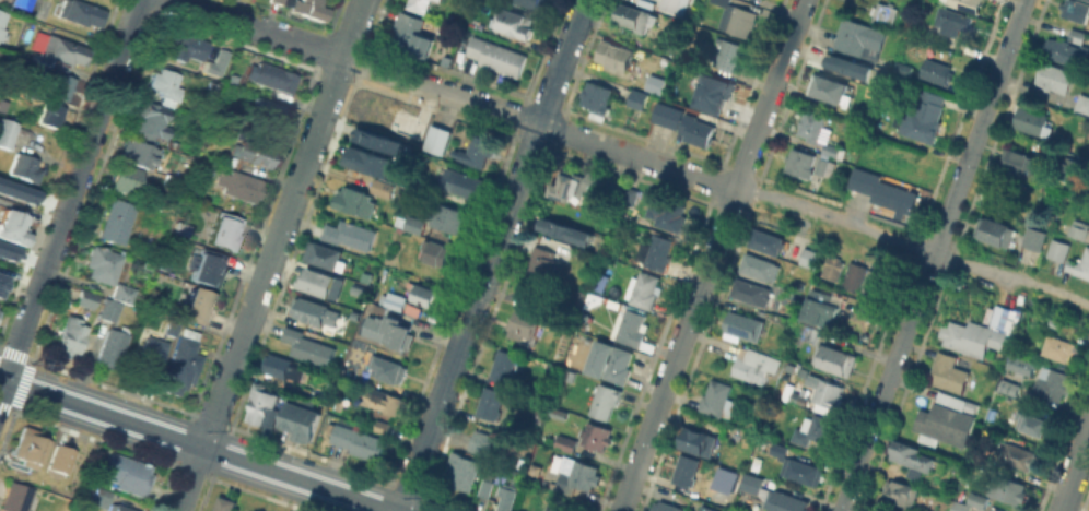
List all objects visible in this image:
building: (280, 1)
building: (530, 2)
building: (23, 4)
building: (419, 4)
building: (969, 4)
building: (671, 7)
building: (43, 9)
building: (312, 9)
building: (1075, 9)
road: (203, 11)
building: (82, 12)
building: (883, 12)
building: (635, 16)
building: (737, 17)
building: (952, 20)
building: (516, 22)
building: (3, 25)
building: (915, 26)
building: (410, 29)
building: (1077, 34)
building: (860, 38)
road: (290, 39)
building: (184, 46)
building: (423, 49)
building: (63, 51)
building: (1066, 51)
building: (727, 52)
building: (617, 54)
building: (497, 55)
building: (218, 61)
building: (854, 70)
building: (905, 70)
building: (937, 70)
building: (268, 76)
building: (1054, 76)
building: (168, 82)
building: (656, 82)
building: (62, 84)
building: (213, 86)
building: (831, 88)
building: (714, 96)
building: (639, 97)
building: (598, 98)
building: (1082, 104)
building: (54, 114)
building: (668, 114)
building: (268, 117)
building: (921, 118)
building: (155, 119)
building: (1033, 121)
building: (406, 123)
road: (539, 124)
building: (815, 124)
building: (696, 129)
building: (7, 132)
building: (433, 139)
building: (376, 140)
building: (1088, 146)
building: (478, 148)
building: (833, 150)
building: (140, 153)
building: (251, 153)
building: (367, 159)
building: (1069, 159)
building: (801, 162)
building: (1020, 162)
building: (822, 165)
building: (26, 167)
building: (128, 178)
building: (420, 181)
building: (592, 181)
building: (461, 182)
building: (572, 183)
building: (243, 185)
building: (379, 187)
building: (616, 187)
building: (883, 189)
building: (16, 192)
building: (630, 195)
road: (72, 201)
building: (355, 201)
building: (667, 212)
building: (449, 217)
building: (119, 221)
building: (414, 223)
building: (1065, 227)
building: (14, 228)
building: (1079, 228)
building: (993, 229)
building: (569, 230)
building: (350, 233)
building: (227, 234)
building: (1032, 236)
building: (768, 240)
road: (913, 245)
building: (5, 251)
building: (433, 251)
building: (656, 251)
building: (1059, 253)
building: (326, 254)
road: (491, 254)
road: (271, 255)
road: (712, 255)
road: (932, 255)
building: (806, 257)
building: (103, 263)
building: (543, 264)
building: (759, 264)
building: (1082, 264)
building: (830, 266)
building: (210, 271)
building: (851, 275)
building: (1, 281)
building: (870, 284)
building: (318, 285)
building: (643, 287)
building: (1, 288)
building: (750, 290)
building: (125, 292)
building: (426, 294)
building: (87, 298)
building: (390, 299)
building: (825, 306)
building: (110, 309)
building: (201, 309)
building: (412, 310)
building: (316, 312)
building: (1011, 319)
building: (527, 324)
building: (745, 324)
building: (630, 325)
building: (174, 326)
building: (806, 332)
building: (387, 334)
building: (71, 336)
building: (974, 341)
building: (307, 345)
building: (115, 346)
building: (1057, 347)
building: (152, 356)
building: (835, 358)
building: (183, 361)
building: (607, 361)
building: (279, 365)
building: (504, 365)
building: (754, 365)
building: (1018, 365)
building: (386, 367)
building: (360, 372)
building: (948, 372)
building: (567, 375)
building: (1052, 384)
building: (1009, 385)
building: (829, 392)
building: (798, 396)
building: (715, 397)
building: (385, 401)
building: (606, 401)
building: (490, 402)
building: (957, 402)
building: (261, 403)
building: (541, 408)
building: (303, 420)
building: (1030, 423)
building: (383, 425)
building: (947, 427)
building: (813, 428)
building: (544, 431)
building: (597, 435)
building: (695, 440)
building: (360, 441)
building: (482, 442)
building: (565, 442)
building: (31, 443)
road: (196, 444)
building: (778, 449)
building: (912, 455)
building: (1018, 455)
building: (58, 459)
building: (687, 470)
road: (1074, 470)
building: (461, 471)
building: (801, 471)
building: (127, 475)
building: (578, 476)
building: (487, 487)
building: (1007, 488)
building: (900, 491)
building: (722, 492)
building: (772, 495)
building: (19, 497)
building: (101, 497)
building: (507, 497)
building: (977, 499)
building: (226, 503)
building: (562, 503)
building: (667, 506)
building: (960, 506)
building: (119, 508)
building: (898, 508)
building: (706, 509)

